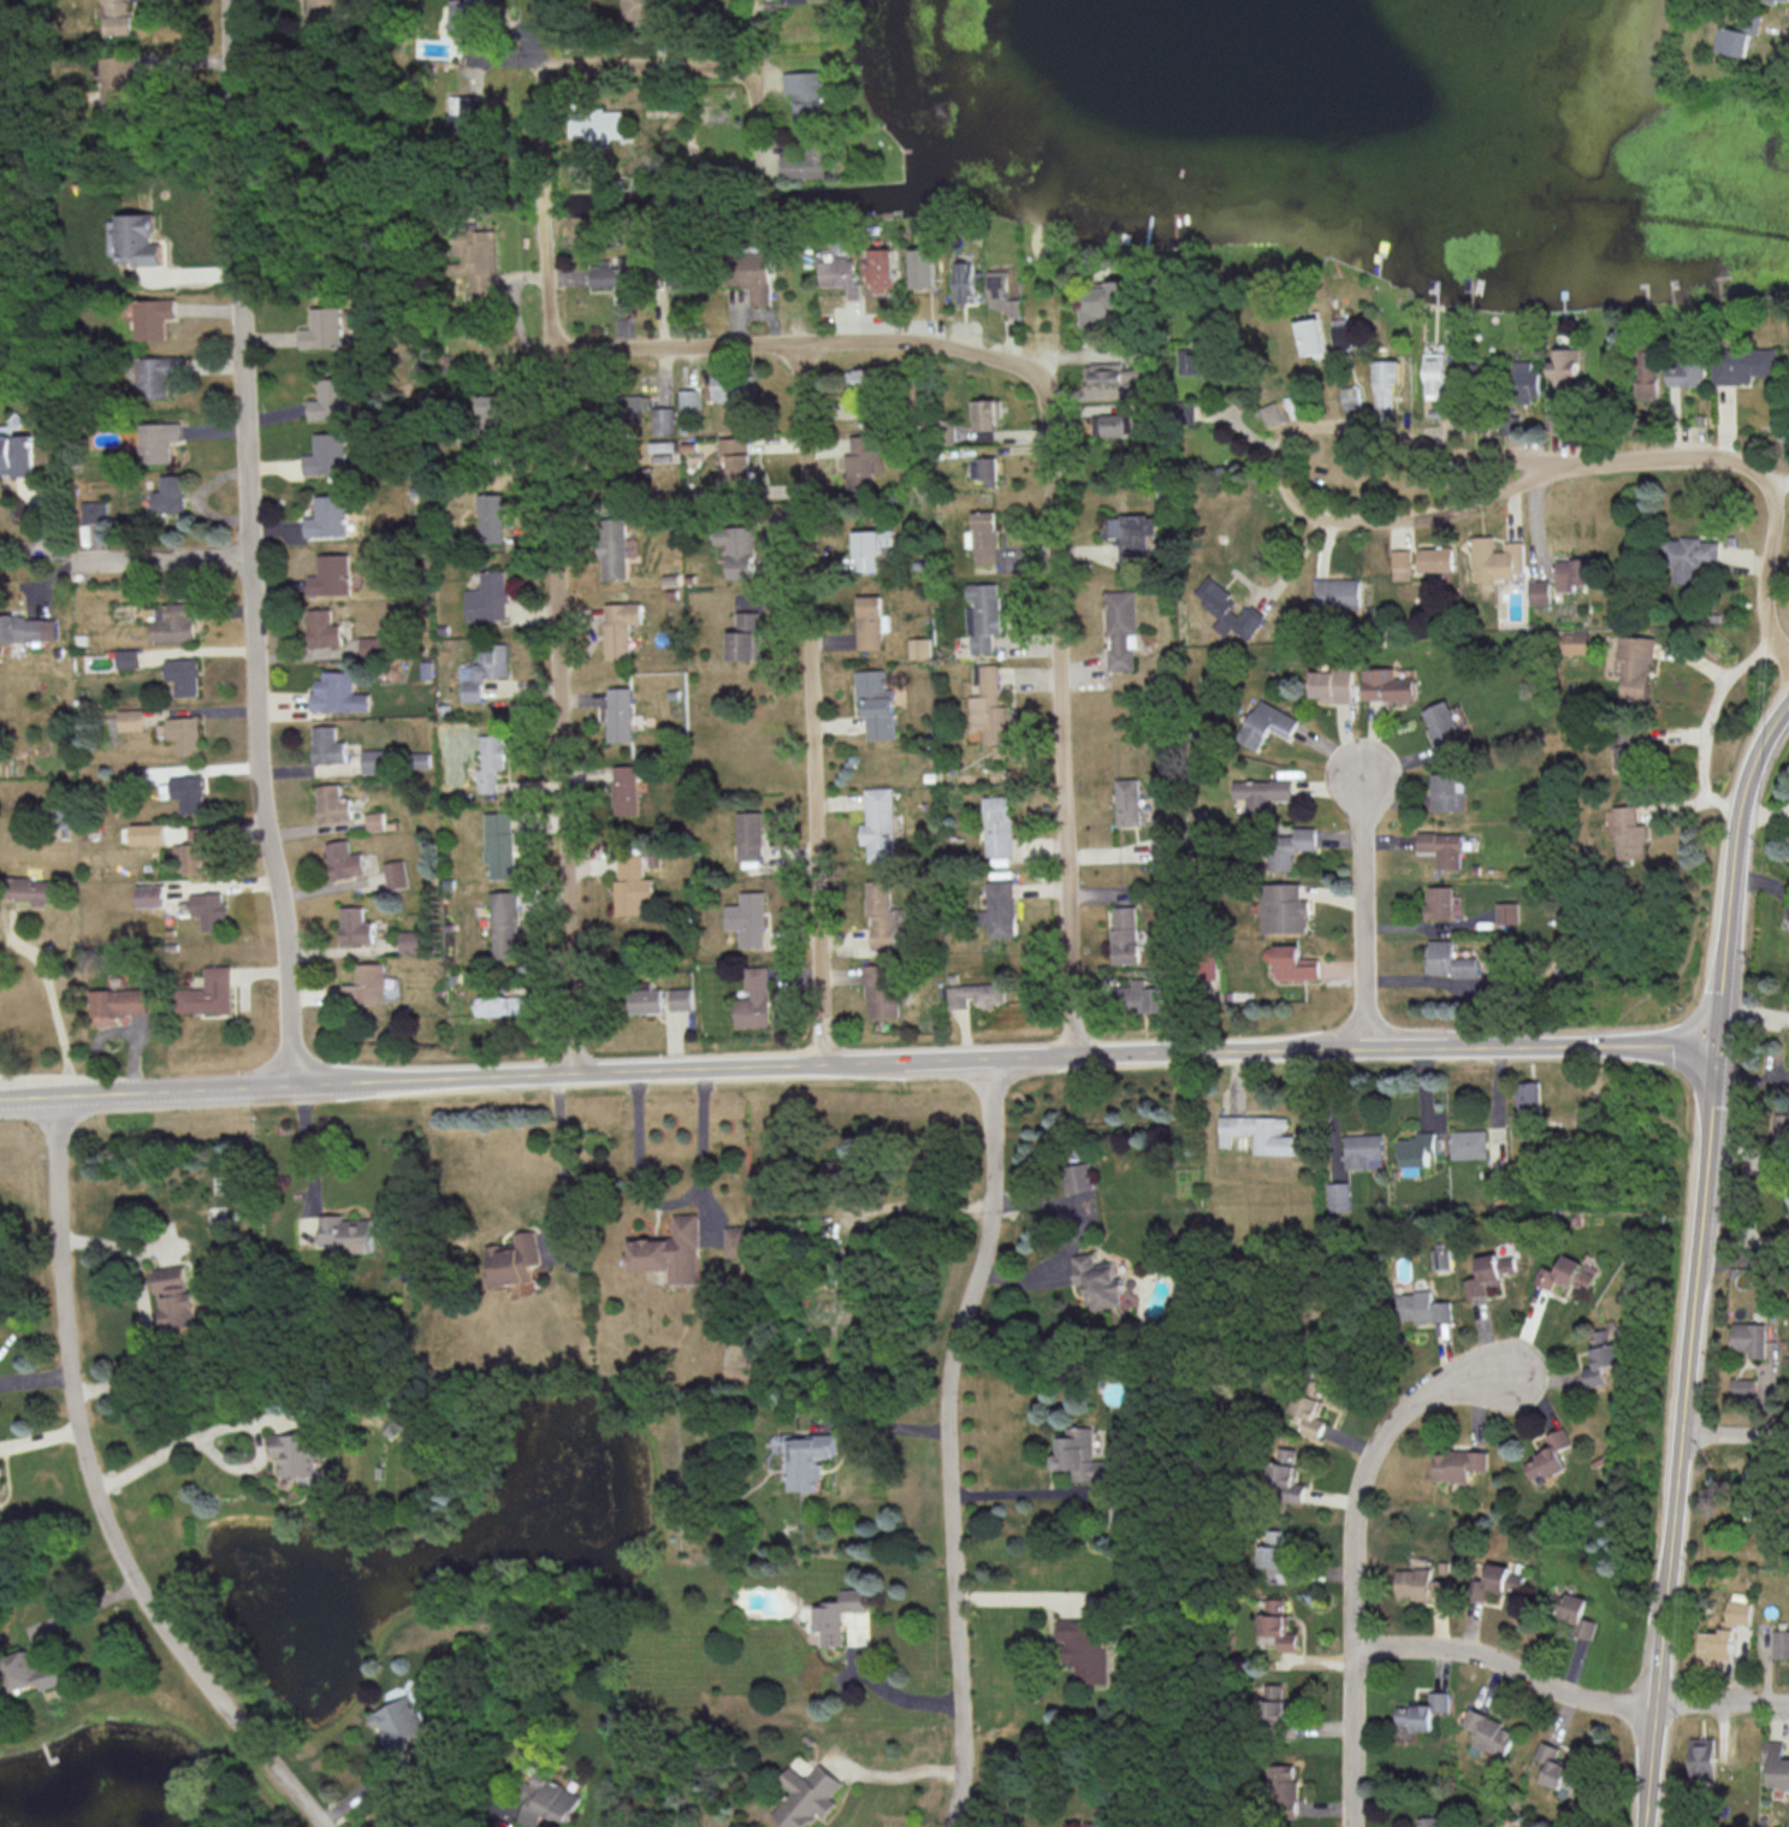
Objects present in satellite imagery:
building: (789, 0)
building: (645, 11)
building: (326, 14)
building: (469, 16)
building: (119, 17)
building: (1736, 34)
road: (647, 67)
building: (117, 79)
road: (753, 81)
building: (810, 95)
building: (467, 111)
building: (598, 125)
building: (811, 162)
building: (140, 238)
building: (476, 262)
building: (923, 267)
building: (883, 270)
building: (753, 274)
building: (840, 274)
building: (621, 277)
building: (965, 282)
building: (1002, 291)
building: (1107, 300)
building: (155, 317)
building: (324, 329)
building: (1344, 336)
building: (1313, 337)
road: (804, 342)
building: (1197, 357)
road: (1078, 359)
building: (1743, 363)
building: (1564, 366)
building: (1103, 373)
building: (1687, 373)
building: (158, 374)
building: (1434, 374)
building: (1646, 374)
building: (860, 377)
building: (1524, 378)
building: (1385, 382)
building: (734, 388)
building: (1351, 397)
building: (332, 398)
building: (688, 407)
building: (622, 408)
building: (488, 410)
building: (1272, 413)
building: (987, 419)
building: (664, 420)
building: (1108, 424)
building: (159, 441)
building: (16, 453)
building: (327, 454)
building: (735, 457)
building: (861, 462)
building: (984, 471)
road: (1281, 472)
road: (1760, 473)
road: (1779, 481)
building: (171, 495)
building: (95, 510)
building: (328, 516)
building: (491, 518)
building: (984, 537)
building: (1133, 539)
road: (248, 544)
building: (870, 546)
building: (614, 548)
building: (737, 549)
road: (159, 557)
building: (1689, 557)
building: (1434, 558)
building: (1495, 560)
building: (1400, 563)
road: (557, 570)
building: (1572, 572)
building: (331, 574)
building: (1539, 591)
building: (1337, 592)
building: (488, 597)
building: (1228, 609)
building: (983, 615)
building: (870, 621)
building: (172, 622)
building: (28, 626)
building: (621, 627)
building: (322, 628)
building: (1122, 629)
building: (746, 637)
building: (1577, 641)
building: (374, 644)
building: (920, 648)
building: (126, 657)
building: (1635, 664)
building: (485, 669)
building: (183, 675)
building: (1333, 684)
building: (1387, 685)
building: (338, 693)
building: (877, 703)
road: (810, 704)
building: (990, 705)
building: (621, 714)
building: (131, 719)
road: (1062, 722)
road: (1707, 722)
building: (1268, 723)
building: (1443, 725)
building: (185, 733)
building: (327, 745)
building: (1629, 745)
building: (421, 759)
building: (373, 761)
building: (491, 761)
building: (626, 788)
building: (185, 792)
building: (1447, 792)
building: (1262, 793)
building: (1127, 802)
building: (332, 803)
building: (375, 821)
building: (879, 824)
building: (999, 824)
building: (149, 833)
building: (1629, 833)
building: (751, 836)
building: (499, 844)
building: (1291, 846)
building: (1443, 847)
building: (197, 850)
building: (1161, 850)
building: (344, 859)
building: (396, 874)
building: (632, 883)
building: (31, 889)
road: (1362, 894)
building: (150, 895)
building: (1439, 901)
building: (1284, 907)
building: (209, 909)
building: (1000, 909)
building: (882, 912)
building: (1506, 912)
building: (750, 918)
building: (505, 923)
building: (355, 926)
building: (1125, 934)
building: (1447, 959)
building: (1295, 963)
building: (368, 983)
building: (882, 988)
building: (208, 992)
building: (975, 994)
building: (1143, 995)
building: (645, 998)
building: (681, 998)
building: (756, 999)
building: (115, 1004)
building: (503, 1005)
road: (53, 1006)
traffic signals: (1717, 1050)
road: (858, 1064)
building: (1529, 1096)
building: (1258, 1133)
building: (1468, 1143)
building: (1416, 1148)
building: (1363, 1151)
road: (310, 1155)
road: (563, 1164)
building: (1077, 1176)
building: (1338, 1196)
road: (910, 1204)
road: (673, 1205)
building: (345, 1232)
building: (737, 1241)
building: (670, 1250)
building: (511, 1259)
road: (1696, 1263)
road: (1742, 1263)
building: (1488, 1272)
building: (1565, 1273)
building: (1096, 1281)
building: (174, 1294)
building: (1421, 1307)
road: (142, 1309)
building: (1749, 1337)
building: (1600, 1355)
building: (1742, 1385)
building: (1308, 1412)
road: (219, 1429)
road: (882, 1429)
road: (1735, 1436)
road: (948, 1441)
building: (294, 1453)
building: (1078, 1454)
building: (1548, 1455)
building: (808, 1460)
building: (1457, 1464)
building: (1285, 1474)
road: (1023, 1495)
road: (93, 1496)
road: (1352, 1537)
building: (1280, 1560)
building: (1494, 1578)
building: (1414, 1583)
road: (1019, 1596)
building: (836, 1615)
building: (1578, 1615)
building: (1278, 1624)
building: (1722, 1634)
building: (1781, 1643)
building: (1085, 1648)
building: (34, 1669)
road: (879, 1687)
road: (1565, 1692)
building: (1275, 1704)
building: (1421, 1714)
building: (393, 1721)
building: (1489, 1732)
building: (1701, 1760)
building: (1773, 1764)
building: (1559, 1767)
road: (894, 1776)
building: (1282, 1787)
building: (804, 1796)
building: (549, 1802)
road: (492, 1815)
building: (1430, 1821)
building: (1100, 1823)

